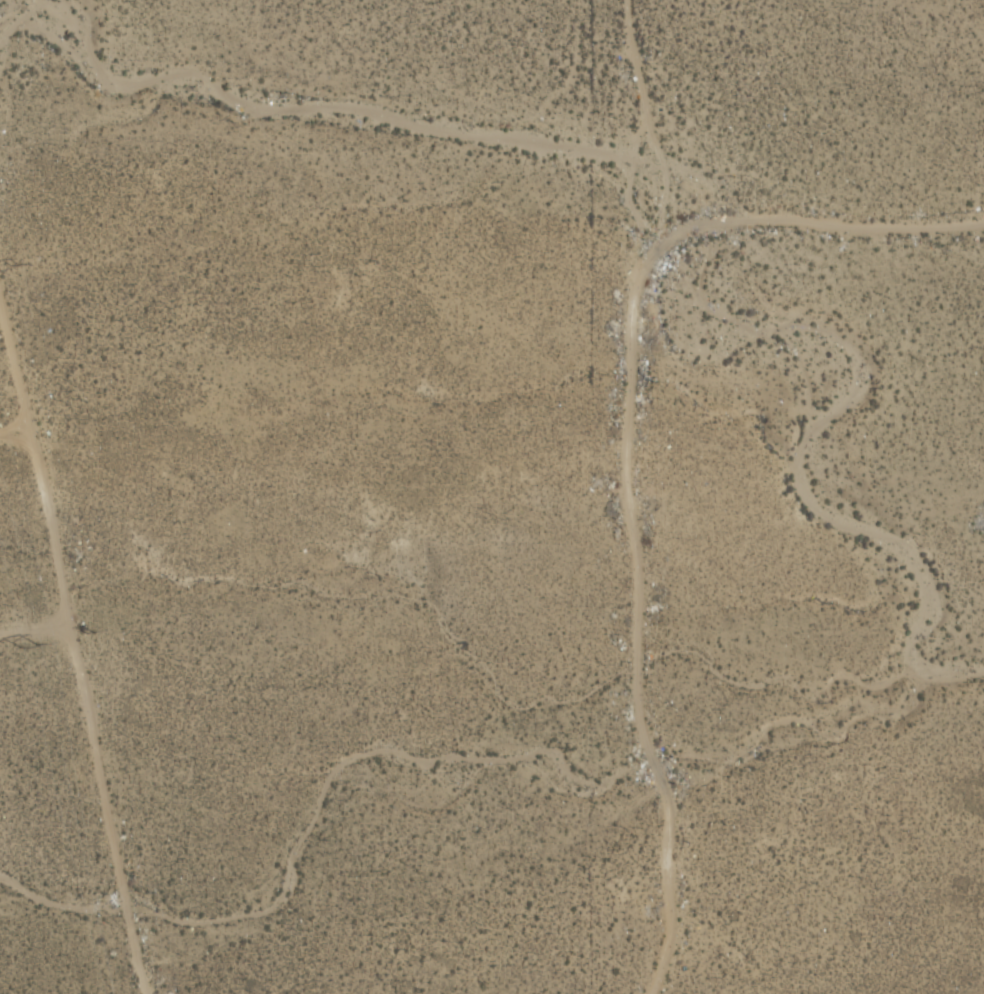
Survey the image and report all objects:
power tower: (15, 263)
power tower: (88, 631)
power tower: (28, 645)

